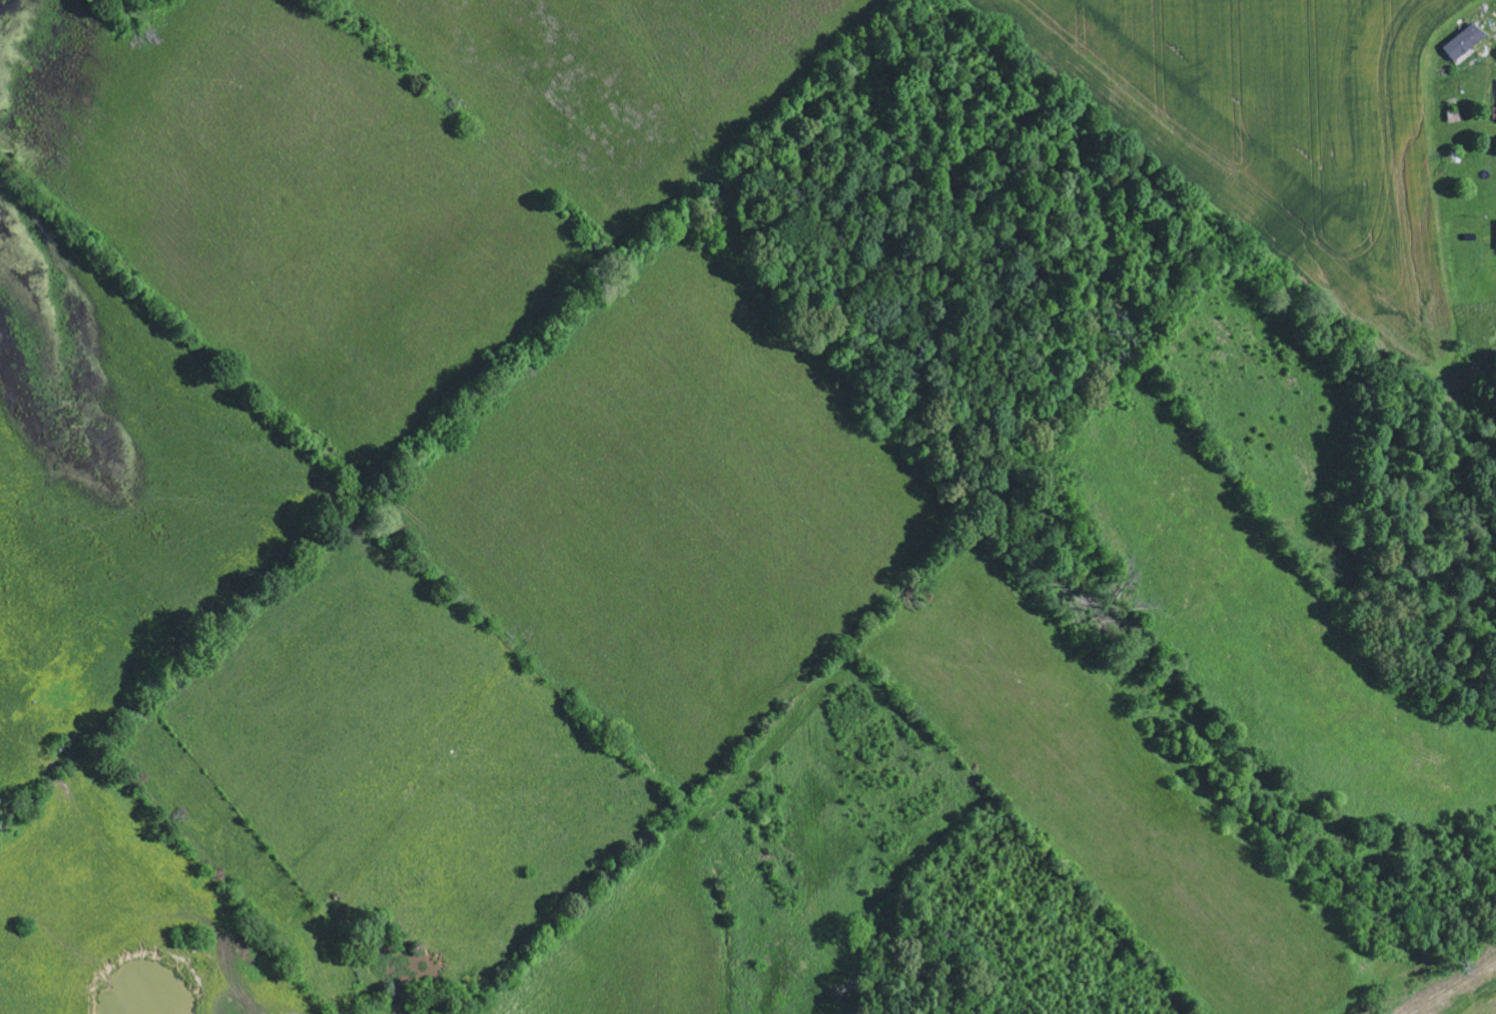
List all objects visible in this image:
building: (1460, 43)
building: (1495, 113)
building: (1495, 231)

